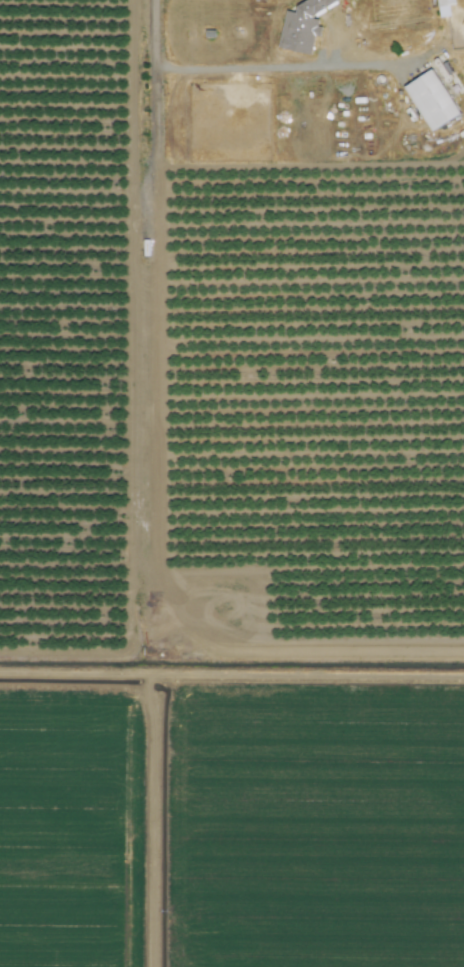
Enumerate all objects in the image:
building: (443, 6)
road: (279, 67)
building: (431, 99)
road: (150, 293)

